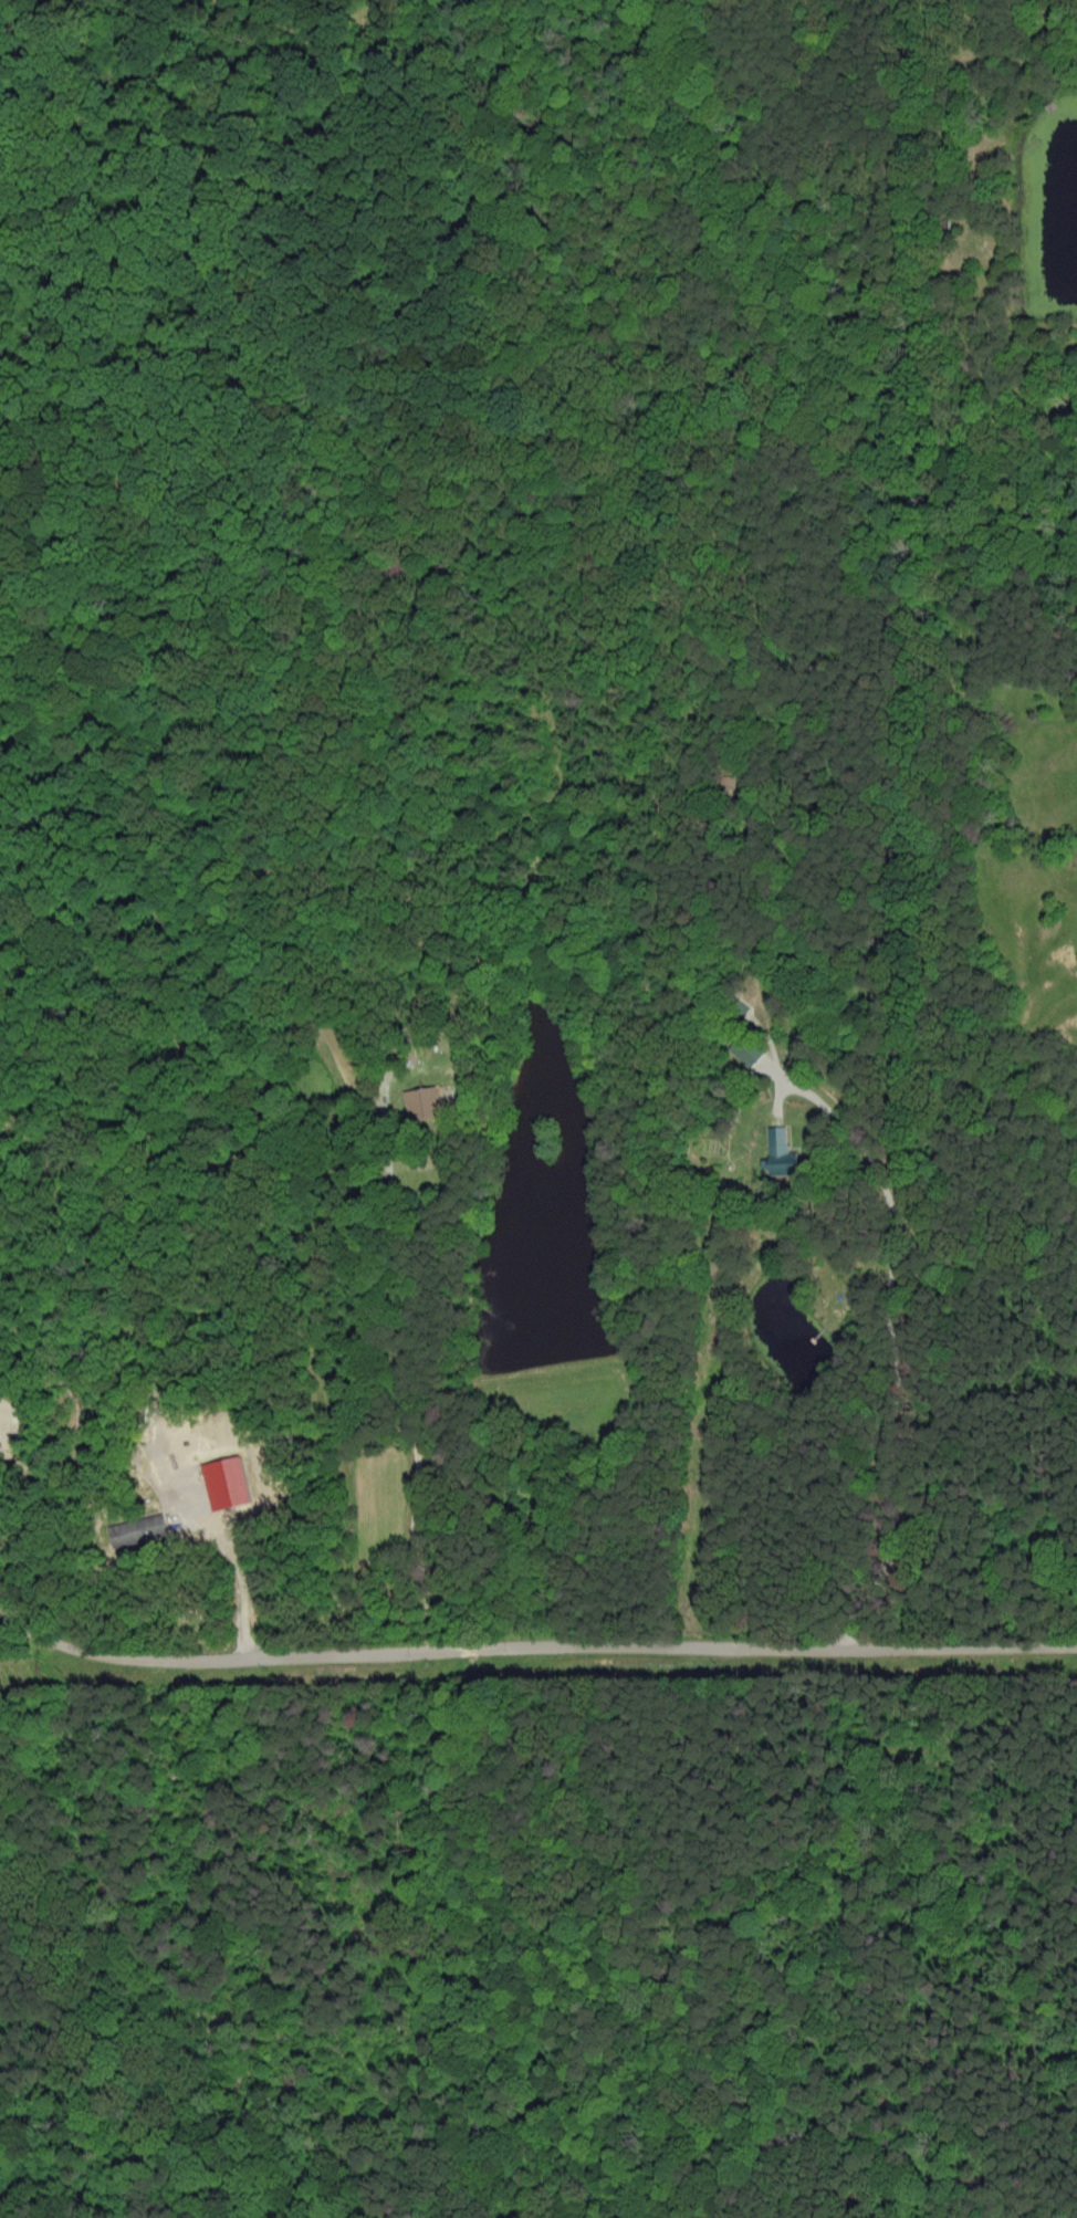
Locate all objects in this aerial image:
building: (421, 1101)
building: (778, 1152)
building: (137, 1528)
road: (538, 1653)

